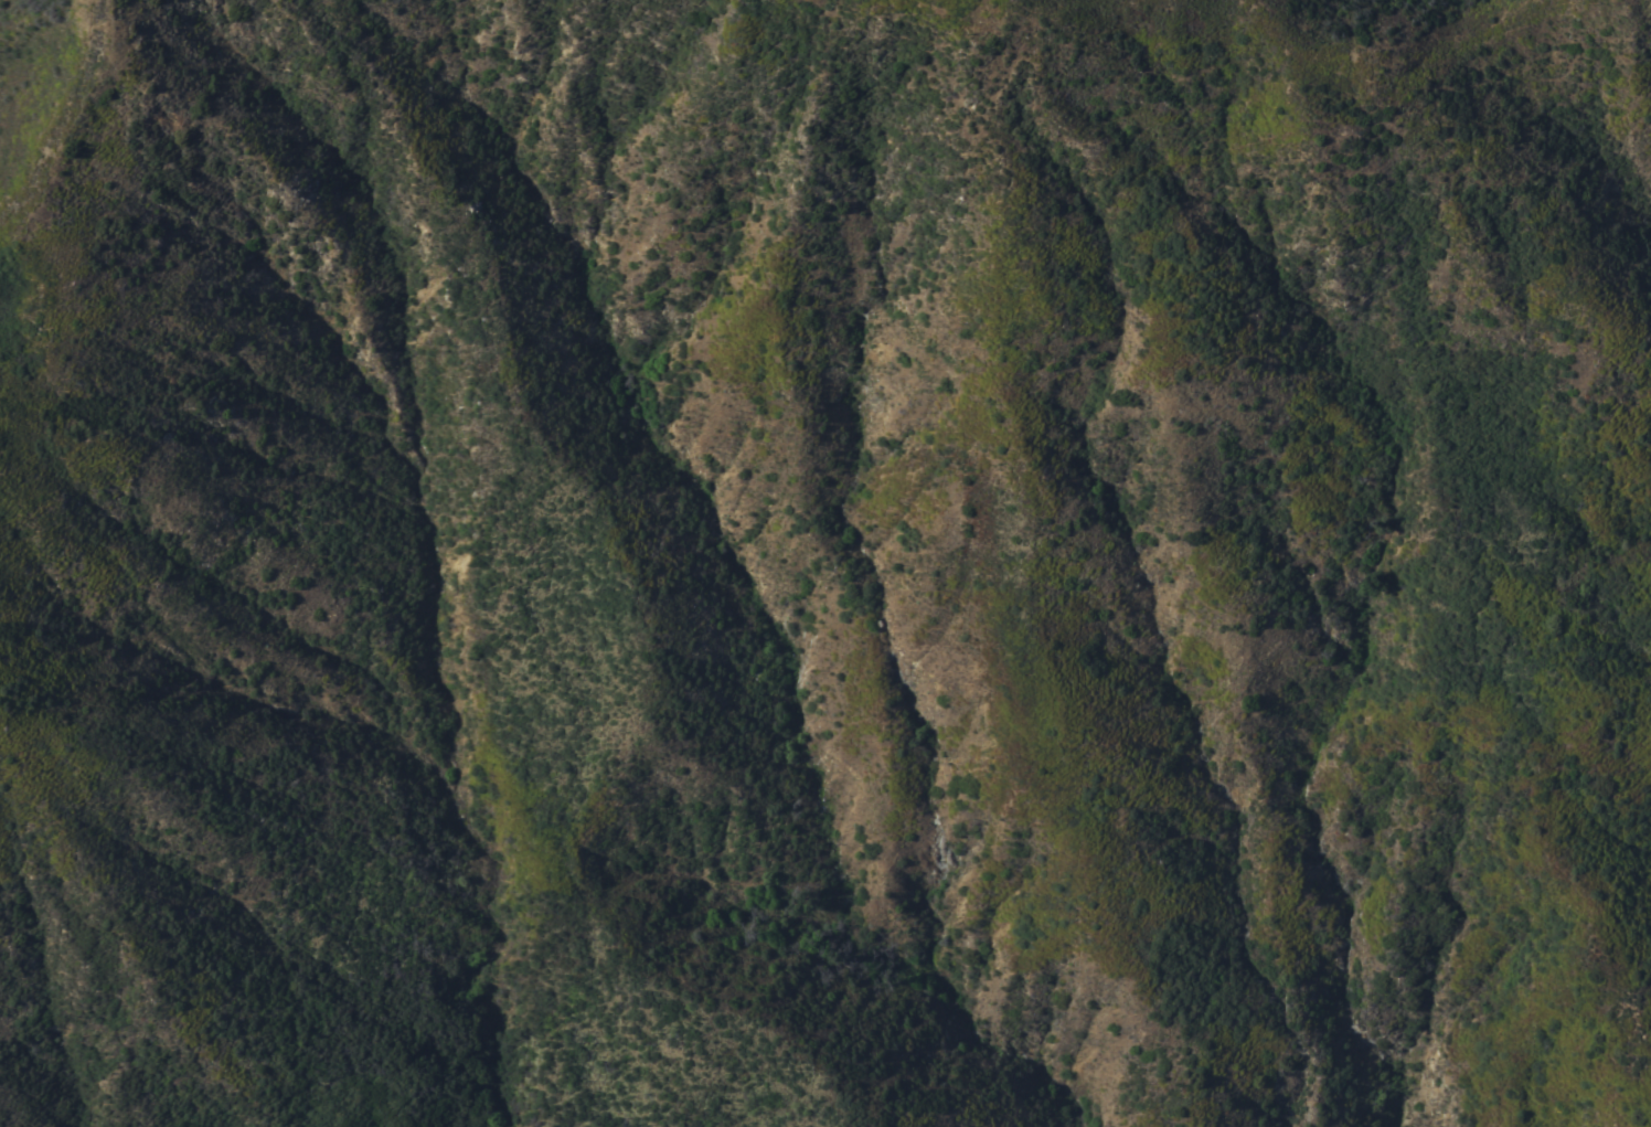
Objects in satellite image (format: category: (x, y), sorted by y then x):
road: (61, 124)

